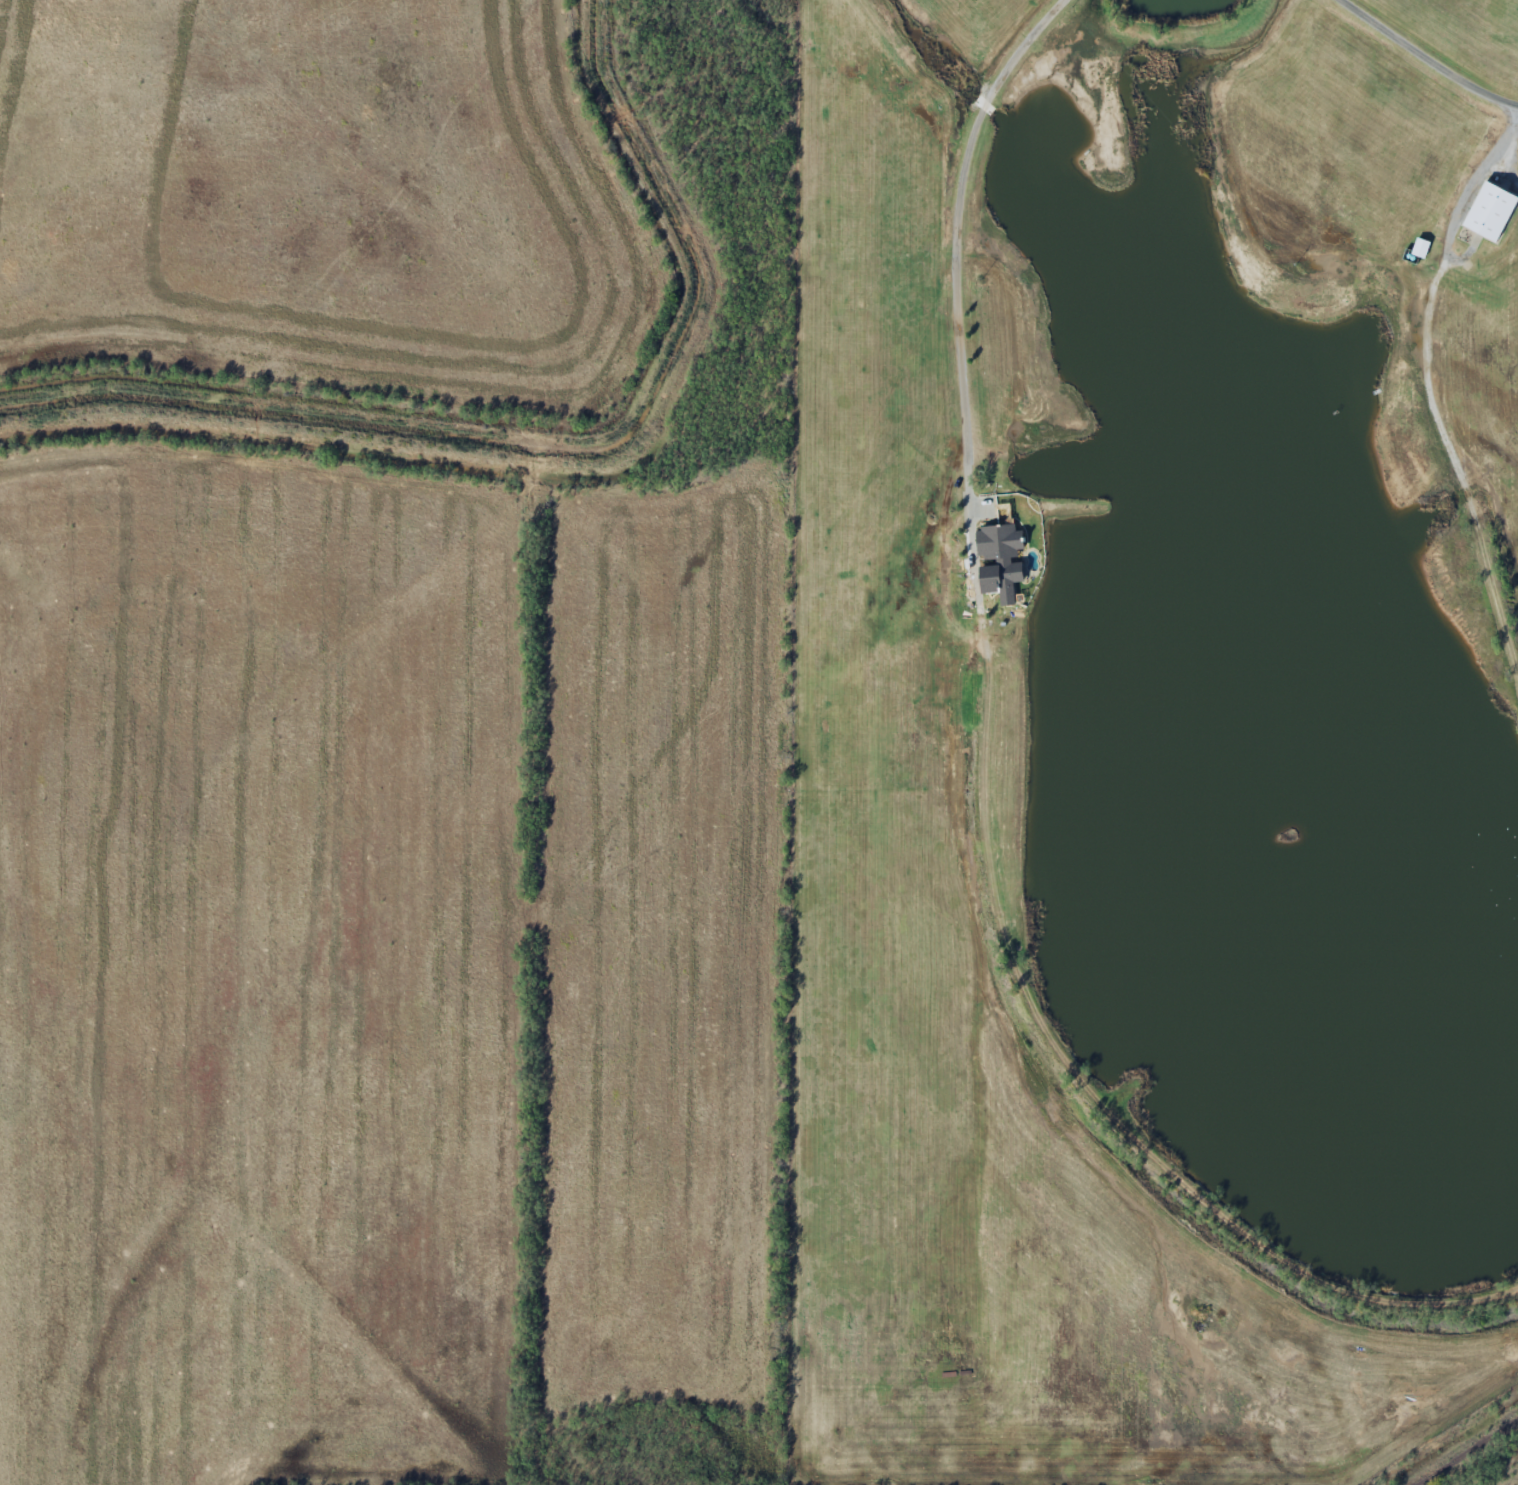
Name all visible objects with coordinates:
road: (1430, 55)
building: (1492, 203)
road: (954, 288)
building: (1002, 544)

